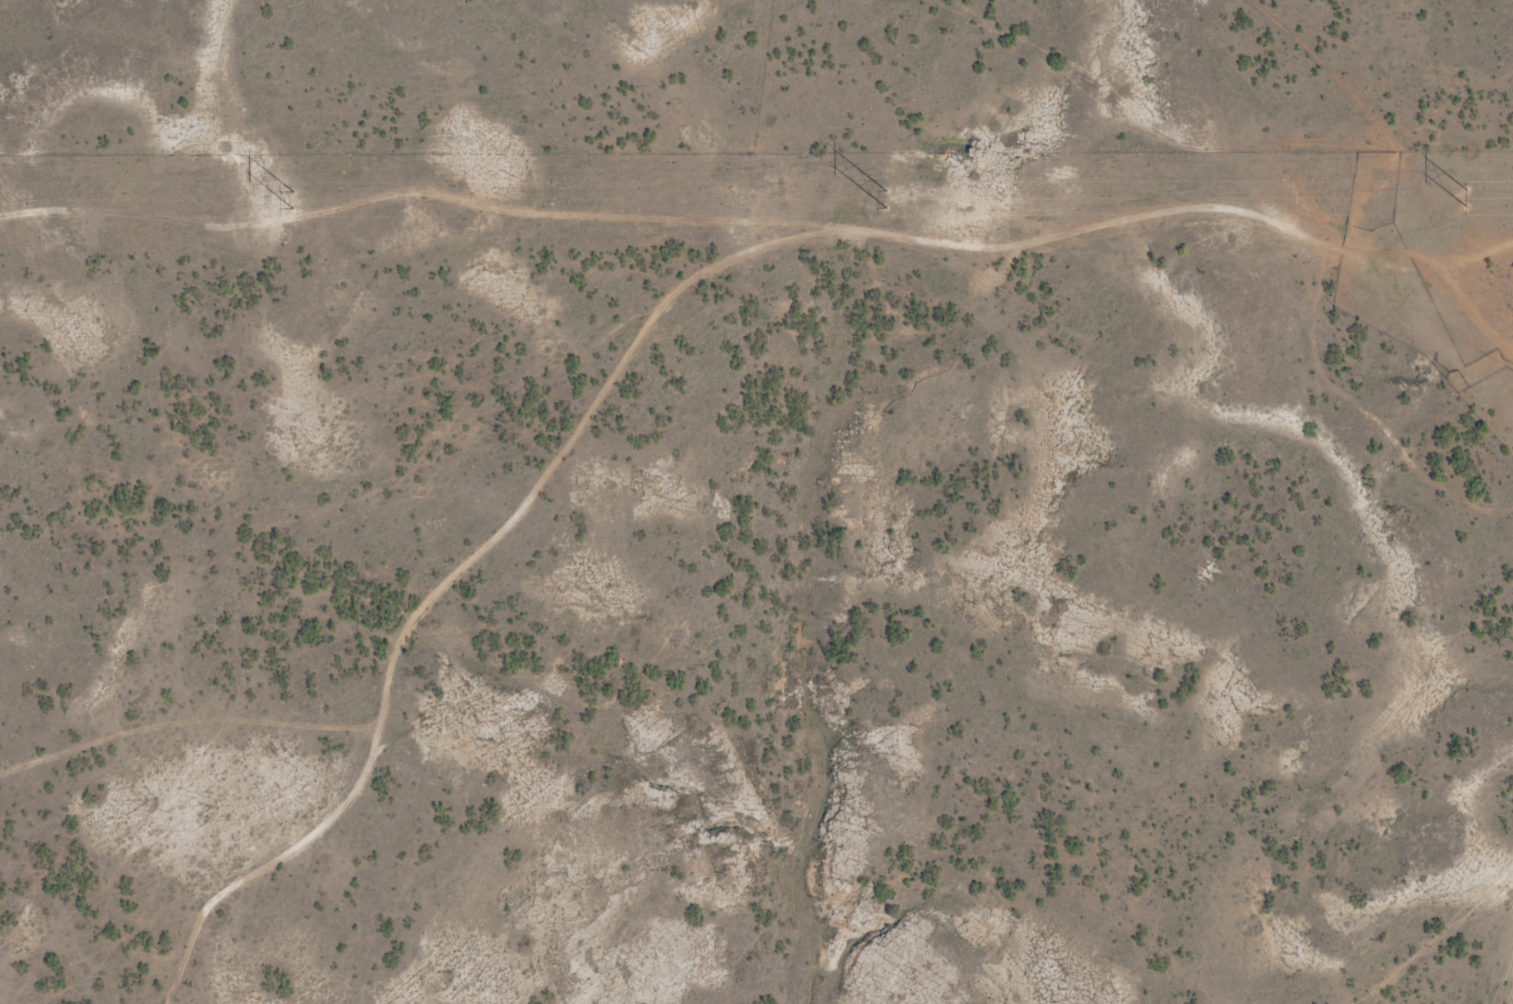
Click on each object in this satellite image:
power tower: (1471, 194)
power tower: (289, 198)
power tower: (888, 199)

